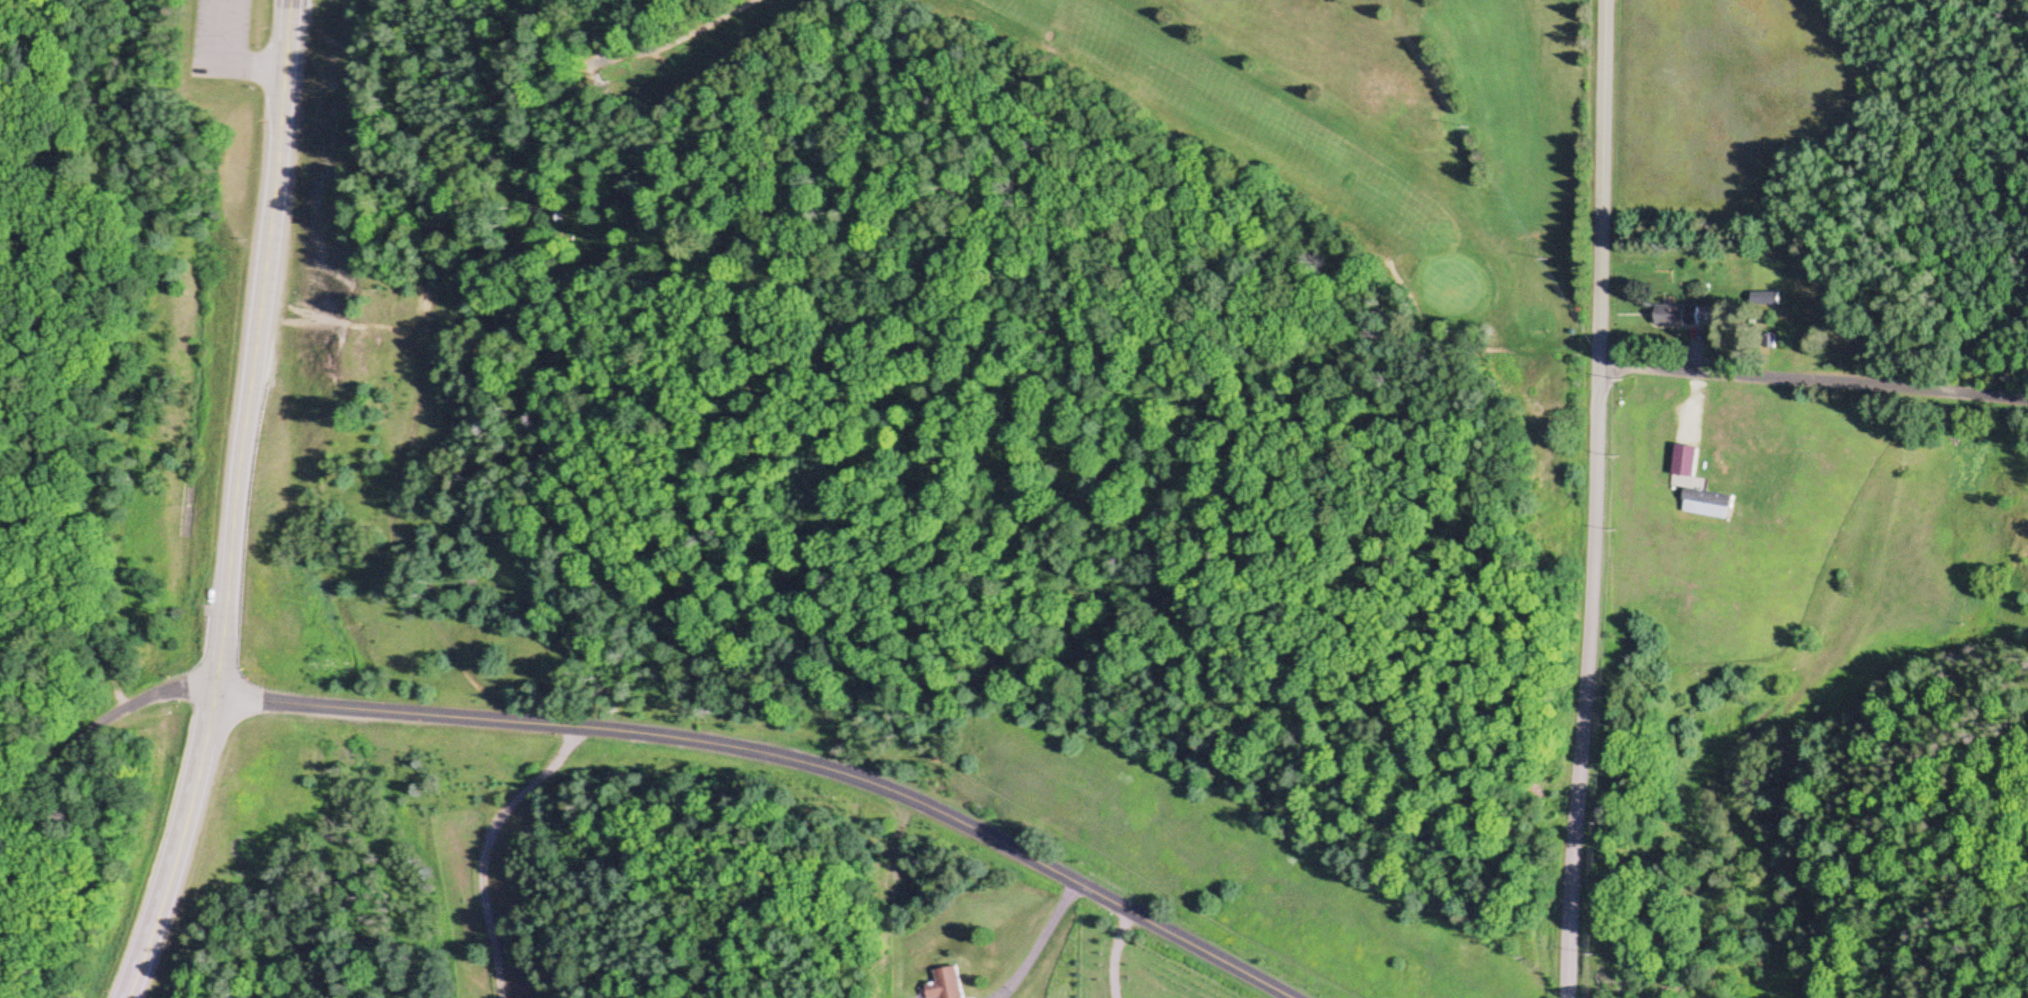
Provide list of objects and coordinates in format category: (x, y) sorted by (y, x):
road: (214, 65)
park: (1345, 149)
park: (131, 158)
road: (1599, 183)
building: (1764, 300)
building: (1665, 315)
road: (1695, 380)
road: (1812, 382)
building: (1683, 461)
road: (237, 504)
road: (1587, 682)
road: (98, 721)
road: (776, 756)
road: (485, 847)
road: (1039, 943)

